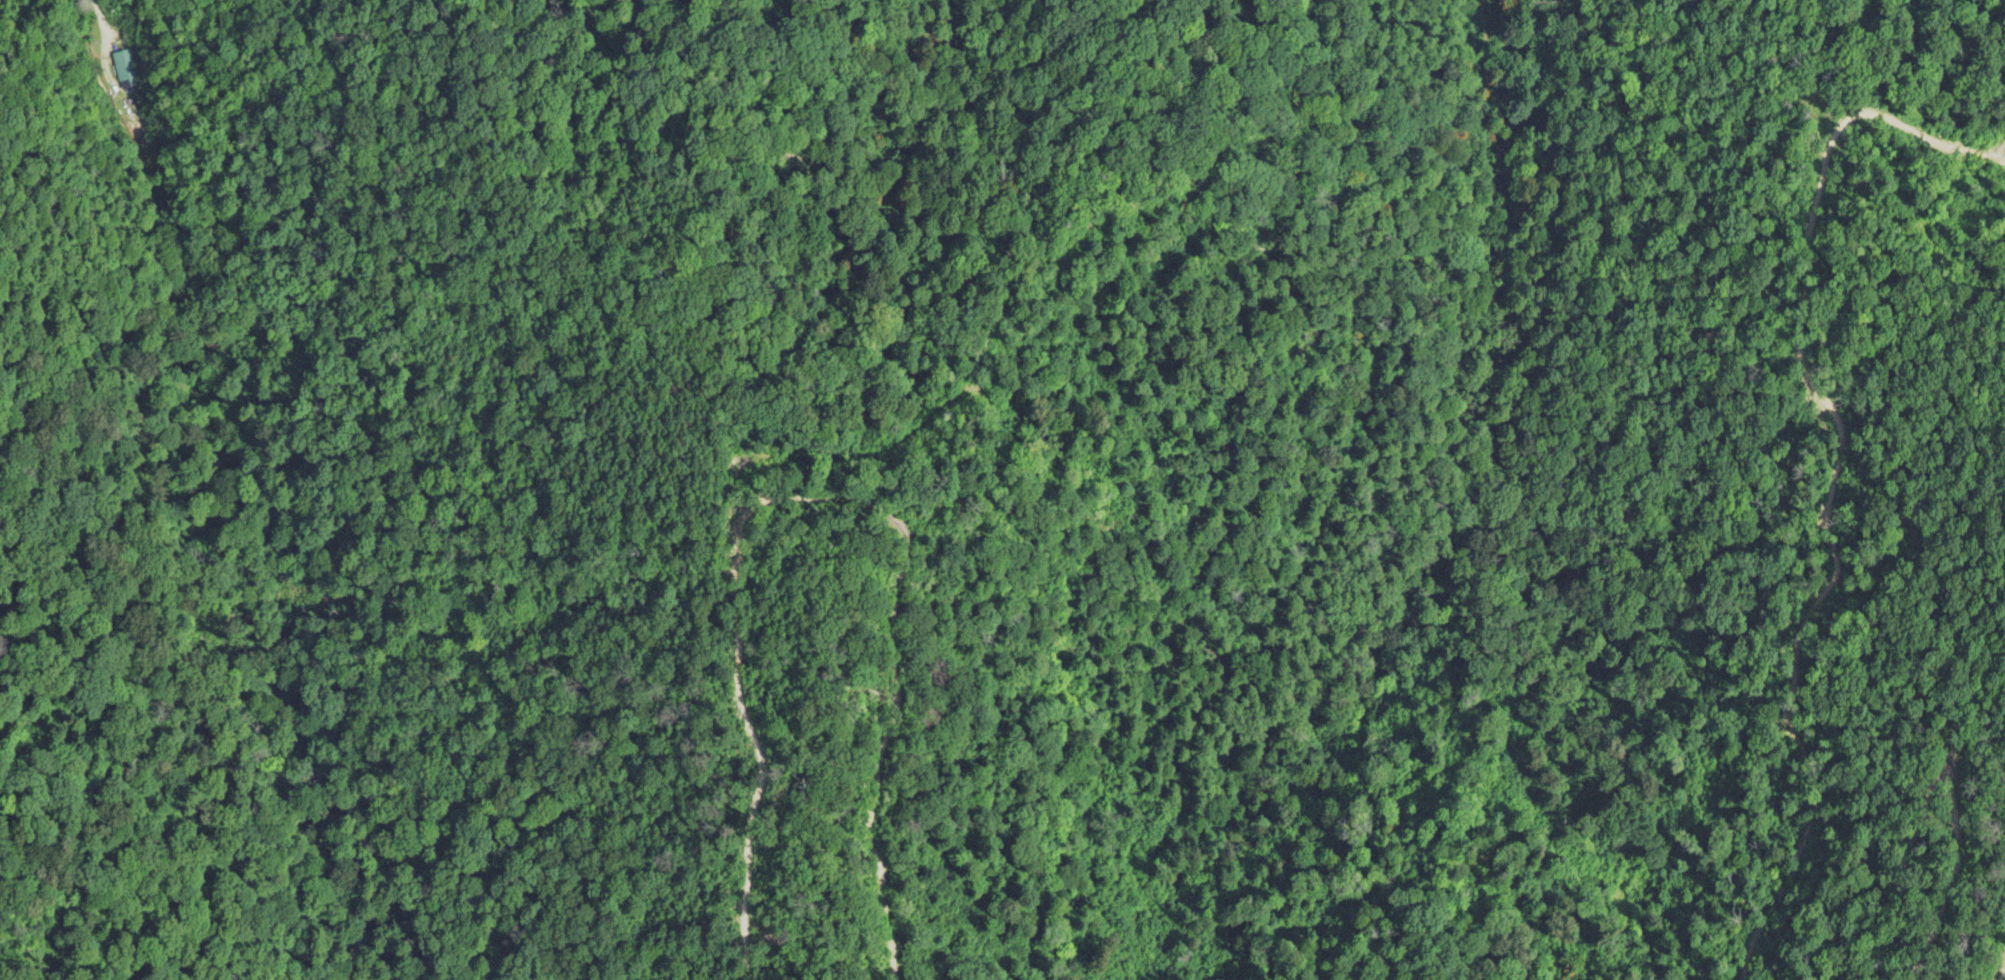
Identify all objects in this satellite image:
road: (303, 66)
building: (119, 77)
road: (357, 465)
road: (219, 498)
road: (1994, 958)

